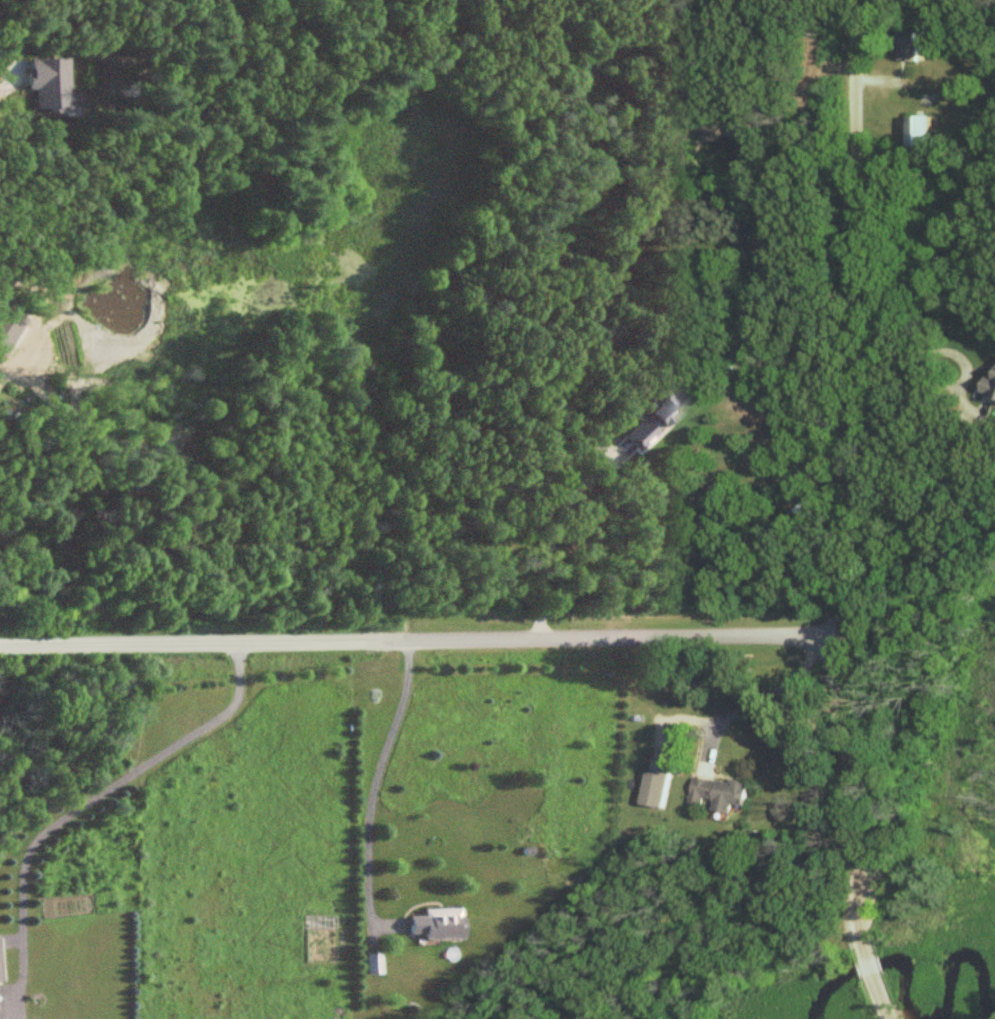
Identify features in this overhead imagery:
building: (906, 47)
building: (917, 132)
building: (8, 329)
road: (936, 373)
building: (988, 388)
road: (973, 416)
road: (855, 470)
road: (549, 532)
road: (422, 638)
road: (756, 696)
road: (377, 780)
building: (654, 788)
building: (717, 793)
road: (85, 805)
building: (435, 924)
road: (866, 957)
building: (374, 964)
road: (878, 998)

